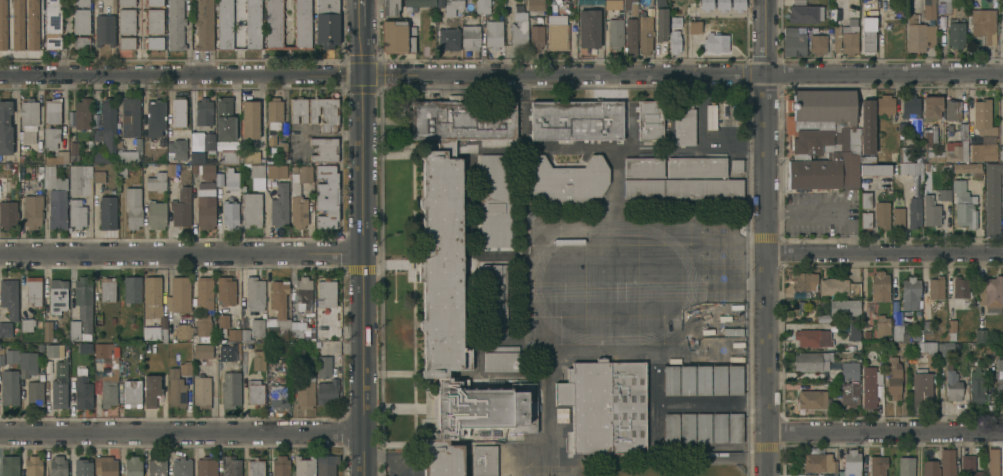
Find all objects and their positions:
building: (80, 2)
building: (126, 2)
building: (440, 2)
building: (590, 2)
building: (155, 3)
building: (419, 3)
building: (613, 4)
building: (706, 4)
building: (535, 5)
building: (722, 5)
building: (738, 5)
building: (452, 6)
building: (482, 6)
building: (630, 6)
building: (389, 7)
building: (943, 7)
building: (868, 8)
building: (926, 9)
building: (804, 12)
road: (359, 13)
building: (839, 14)
building: (80, 21)
building: (126, 21)
building: (155, 21)
building: (660, 21)
building: (274, 23)
building: (326, 23)
building: (32, 24)
building: (52, 24)
building: (224, 24)
building: (253, 24)
building: (983, 24)
building: (3, 25)
building: (17, 25)
building: (175, 25)
building: (204, 25)
building: (588, 27)
building: (693, 27)
building: (104, 30)
building: (615, 31)
building: (644, 33)
building: (867, 33)
building: (955, 33)
building: (493, 34)
building: (518, 34)
building: (918, 34)
building: (674, 35)
building: (536, 36)
building: (557, 36)
building: (630, 36)
building: (397, 37)
building: (470, 37)
building: (849, 37)
building: (448, 38)
building: (836, 38)
building: (81, 42)
building: (126, 42)
building: (155, 42)
building: (793, 42)
building: (715, 43)
building: (817, 44)
road: (501, 75)
building: (885, 105)
building: (910, 106)
building: (932, 107)
building: (298, 109)
building: (952, 109)
building: (178, 111)
building: (203, 111)
building: (82, 113)
building: (324, 113)
building: (28, 114)
building: (274, 114)
building: (128, 116)
building: (154, 116)
building: (710, 117)
building: (982, 117)
building: (224, 118)
building: (250, 119)
building: (576, 119)
building: (650, 119)
building: (95, 120)
building: (462, 121)
building: (51, 122)
building: (684, 124)
building: (106, 125)
building: (1002, 125)
building: (867, 126)
building: (5, 127)
building: (929, 136)
building: (823, 138)
building: (272, 141)
building: (208, 142)
building: (958, 145)
building: (179, 146)
building: (324, 149)
building: (73, 150)
building: (282, 150)
building: (983, 151)
building: (1001, 152)
building: (60, 153)
building: (904, 154)
building: (127, 156)
building: (229, 156)
building: (251, 156)
building: (886, 156)
building: (934, 156)
building: (100, 157)
building: (196, 157)
building: (867, 159)
building: (736, 166)
building: (696, 167)
building: (643, 168)
building: (969, 168)
building: (253, 169)
building: (875, 169)
building: (910, 169)
building: (170, 170)
building: (195, 170)
building: (207, 171)
building: (276, 171)
building: (78, 177)
building: (99, 177)
building: (231, 178)
building: (219, 180)
building: (566, 180)
building: (156, 181)
building: (915, 184)
building: (682, 189)
building: (943, 194)
building: (299, 196)
building: (327, 196)
building: (55, 197)
building: (992, 198)
building: (495, 200)
building: (865, 200)
building: (279, 205)
building: (963, 205)
building: (132, 207)
building: (181, 207)
building: (205, 208)
building: (251, 209)
building: (32, 210)
building: (930, 211)
building: (107, 212)
road: (805, 212)
building: (914, 212)
building: (76, 213)
building: (8, 214)
building: (156, 214)
building: (230, 214)
building: (882, 214)
building: (897, 217)
building: (865, 220)
road: (848, 233)
road: (764, 237)
road: (359, 251)
road: (179, 255)
road: (883, 255)
building: (441, 265)
building: (804, 280)
building: (832, 286)
building: (879, 286)
building: (960, 286)
building: (935, 287)
building: (132, 288)
building: (107, 289)
building: (853, 289)
building: (33, 290)
building: (225, 290)
building: (910, 292)
building: (204, 293)
building: (254, 293)
building: (303, 293)
building: (326, 293)
building: (179, 294)
building: (990, 294)
building: (57, 295)
building: (151, 296)
building: (9, 297)
building: (494, 300)
building: (84, 303)
building: (844, 307)
building: (278, 311)
building: (895, 317)
building: (822, 318)
building: (222, 321)
building: (26, 324)
building: (320, 324)
building: (880, 326)
building: (257, 327)
building: (926, 327)
building: (5, 328)
building: (202, 328)
building: (951, 328)
building: (74, 330)
building: (298, 330)
building: (47, 331)
building: (155, 331)
building: (182, 331)
building: (853, 332)
building: (896, 333)
building: (233, 334)
building: (866, 335)
building: (980, 335)
building: (244, 336)
building: (811, 337)
building: (84, 348)
building: (981, 349)
building: (51, 350)
building: (102, 350)
building: (922, 350)
building: (944, 350)
building: (202, 351)
building: (226, 352)
building: (1, 356)
building: (11, 356)
building: (960, 357)
building: (500, 358)
building: (258, 360)
building: (811, 360)
building: (27, 363)
building: (114, 364)
building: (323, 366)
building: (185, 368)
building: (121, 369)
building: (61, 370)
building: (849, 371)
building: (893, 376)
building: (669, 380)
building: (685, 380)
building: (701, 380)
building: (717, 380)
building: (733, 380)
building: (999, 381)
building: (952, 385)
building: (921, 386)
building: (976, 386)
building: (10, 387)
building: (868, 387)
building: (175, 388)
building: (230, 389)
building: (108, 390)
building: (151, 390)
building: (35, 391)
building: (81, 391)
building: (327, 391)
building: (201, 392)
building: (305, 392)
building: (58, 393)
building: (132, 393)
building: (255, 393)
building: (847, 394)
building: (279, 395)
building: (811, 399)
building: (605, 406)
building: (484, 407)
building: (561, 415)
building: (669, 428)
building: (701, 428)
building: (734, 428)
road: (884, 431)
road: (180, 435)
building: (441, 458)
building: (484, 460)
building: (818, 462)
building: (947, 462)
building: (990, 462)
building: (326, 464)
building: (850, 464)
building: (10, 465)
building: (877, 465)
building: (32, 466)
building: (58, 466)
building: (82, 466)
building: (105, 466)
building: (133, 466)
building: (156, 466)
building: (206, 466)
building: (231, 466)
building: (280, 466)
building: (304, 466)
building: (905, 466)
building: (969, 466)
building: (181, 467)
building: (255, 467)
building: (930, 468)

